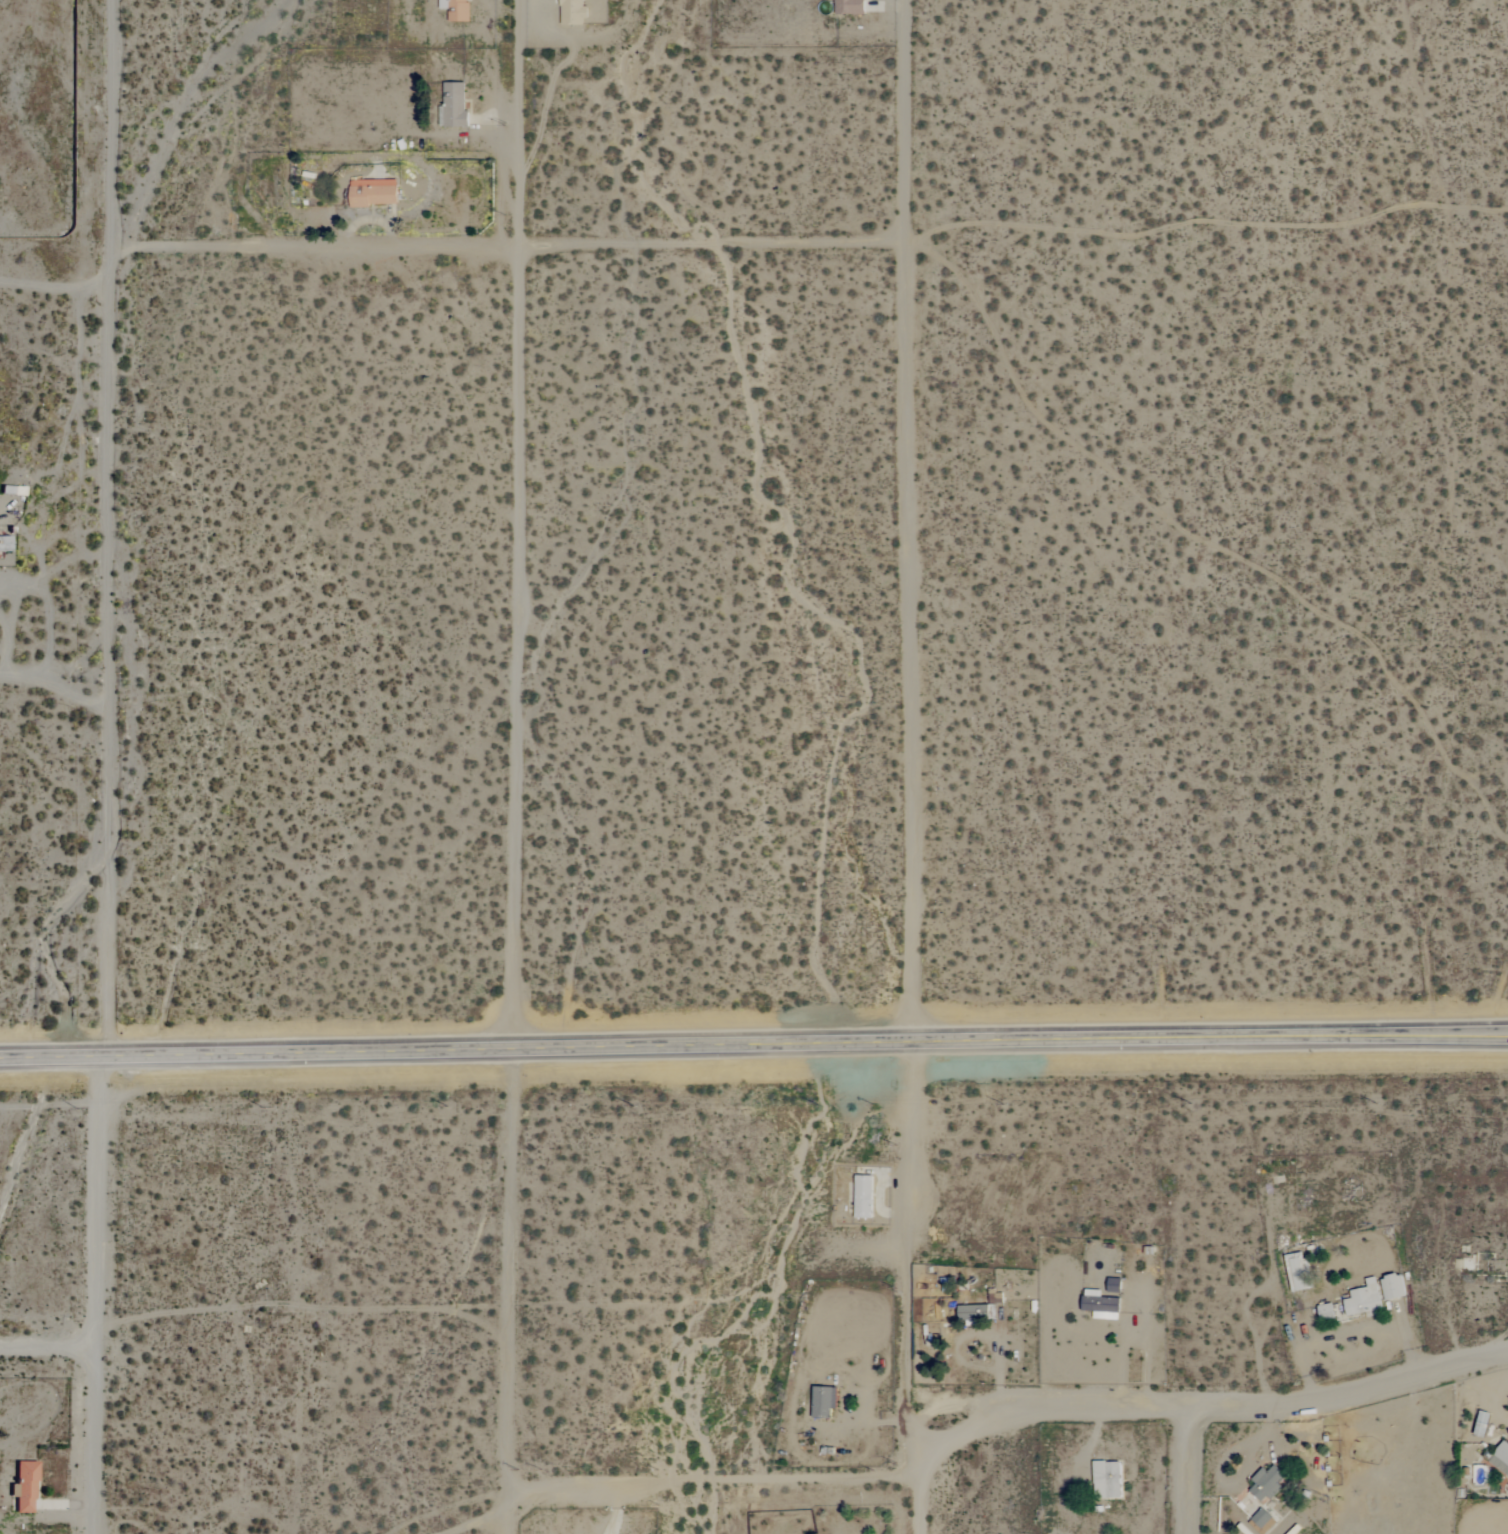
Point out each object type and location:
building: (850, 7)
building: (456, 9)
building: (571, 12)
building: (454, 105)
building: (373, 192)
road: (508, 249)
road: (55, 290)
road: (907, 520)
road: (515, 523)
building: (5, 543)
road: (55, 667)
road: (109, 767)
road: (753, 1044)
road: (913, 1131)
building: (863, 1197)
building: (1297, 1269)
road: (507, 1272)
building: (1114, 1285)
building: (1393, 1287)
building: (996, 1299)
building: (1364, 1299)
building: (1101, 1306)
building: (974, 1312)
building: (1326, 1312)
road: (1140, 1315)
road: (1409, 1339)
road: (44, 1347)
road: (912, 1376)
building: (823, 1402)
road: (1007, 1414)
building: (1481, 1430)
building: (1501, 1458)
road: (1181, 1473)
building: (1107, 1480)
building: (1268, 1482)
building: (24, 1487)
road: (615, 1510)
road: (513, 1512)
building: (1264, 1521)

